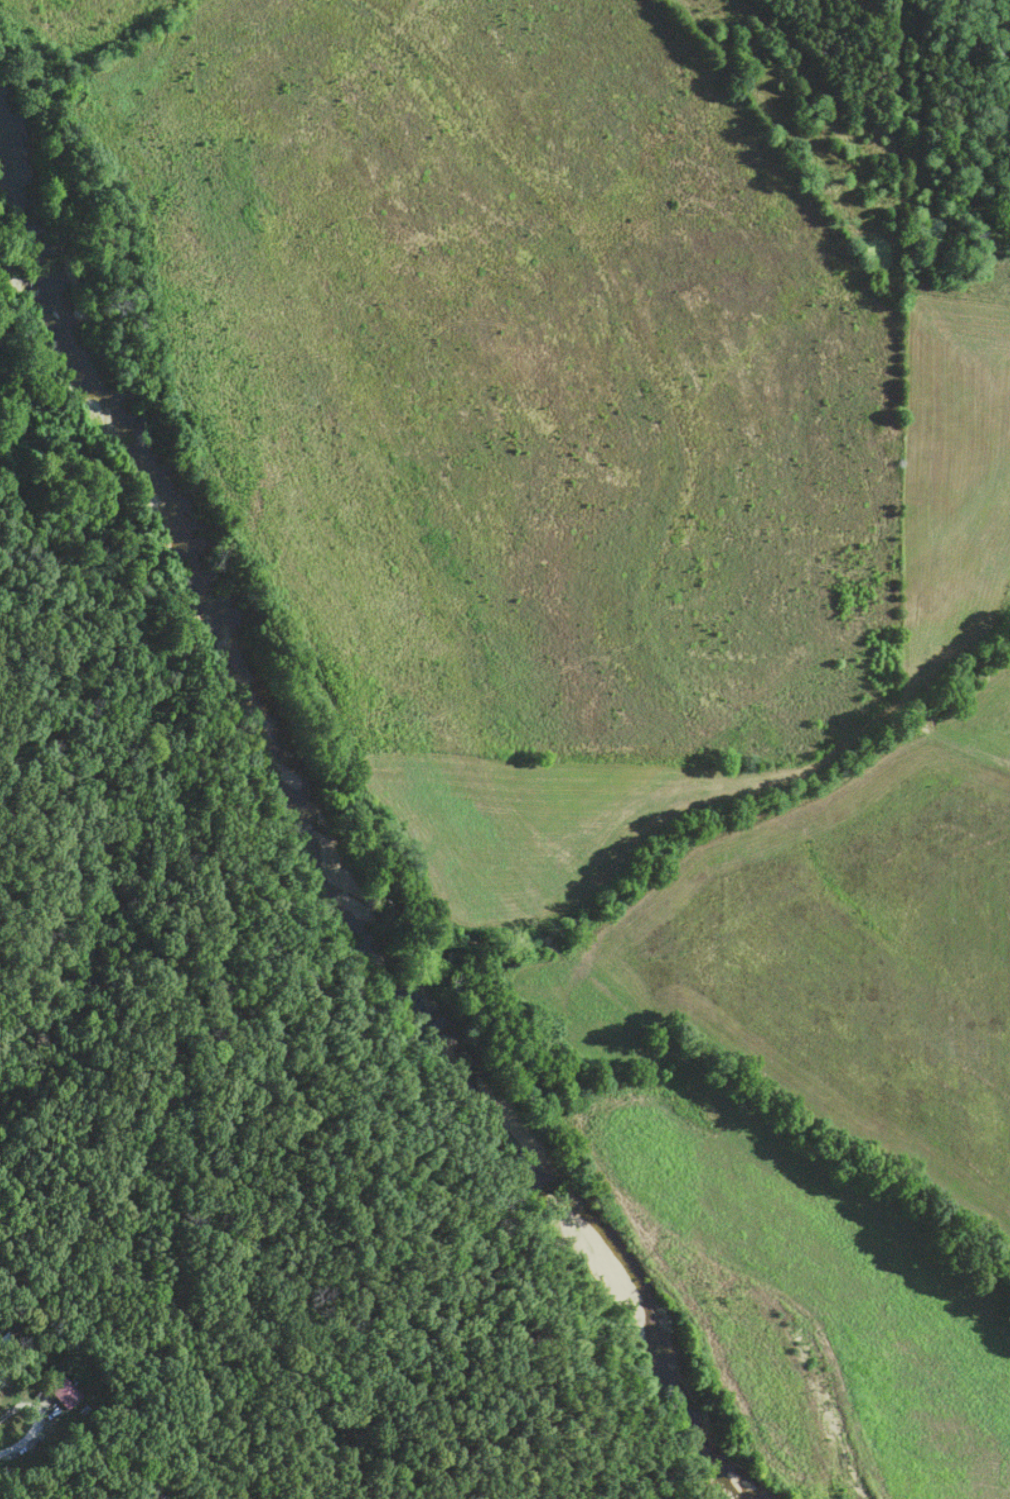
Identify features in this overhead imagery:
road: (23, 1444)

